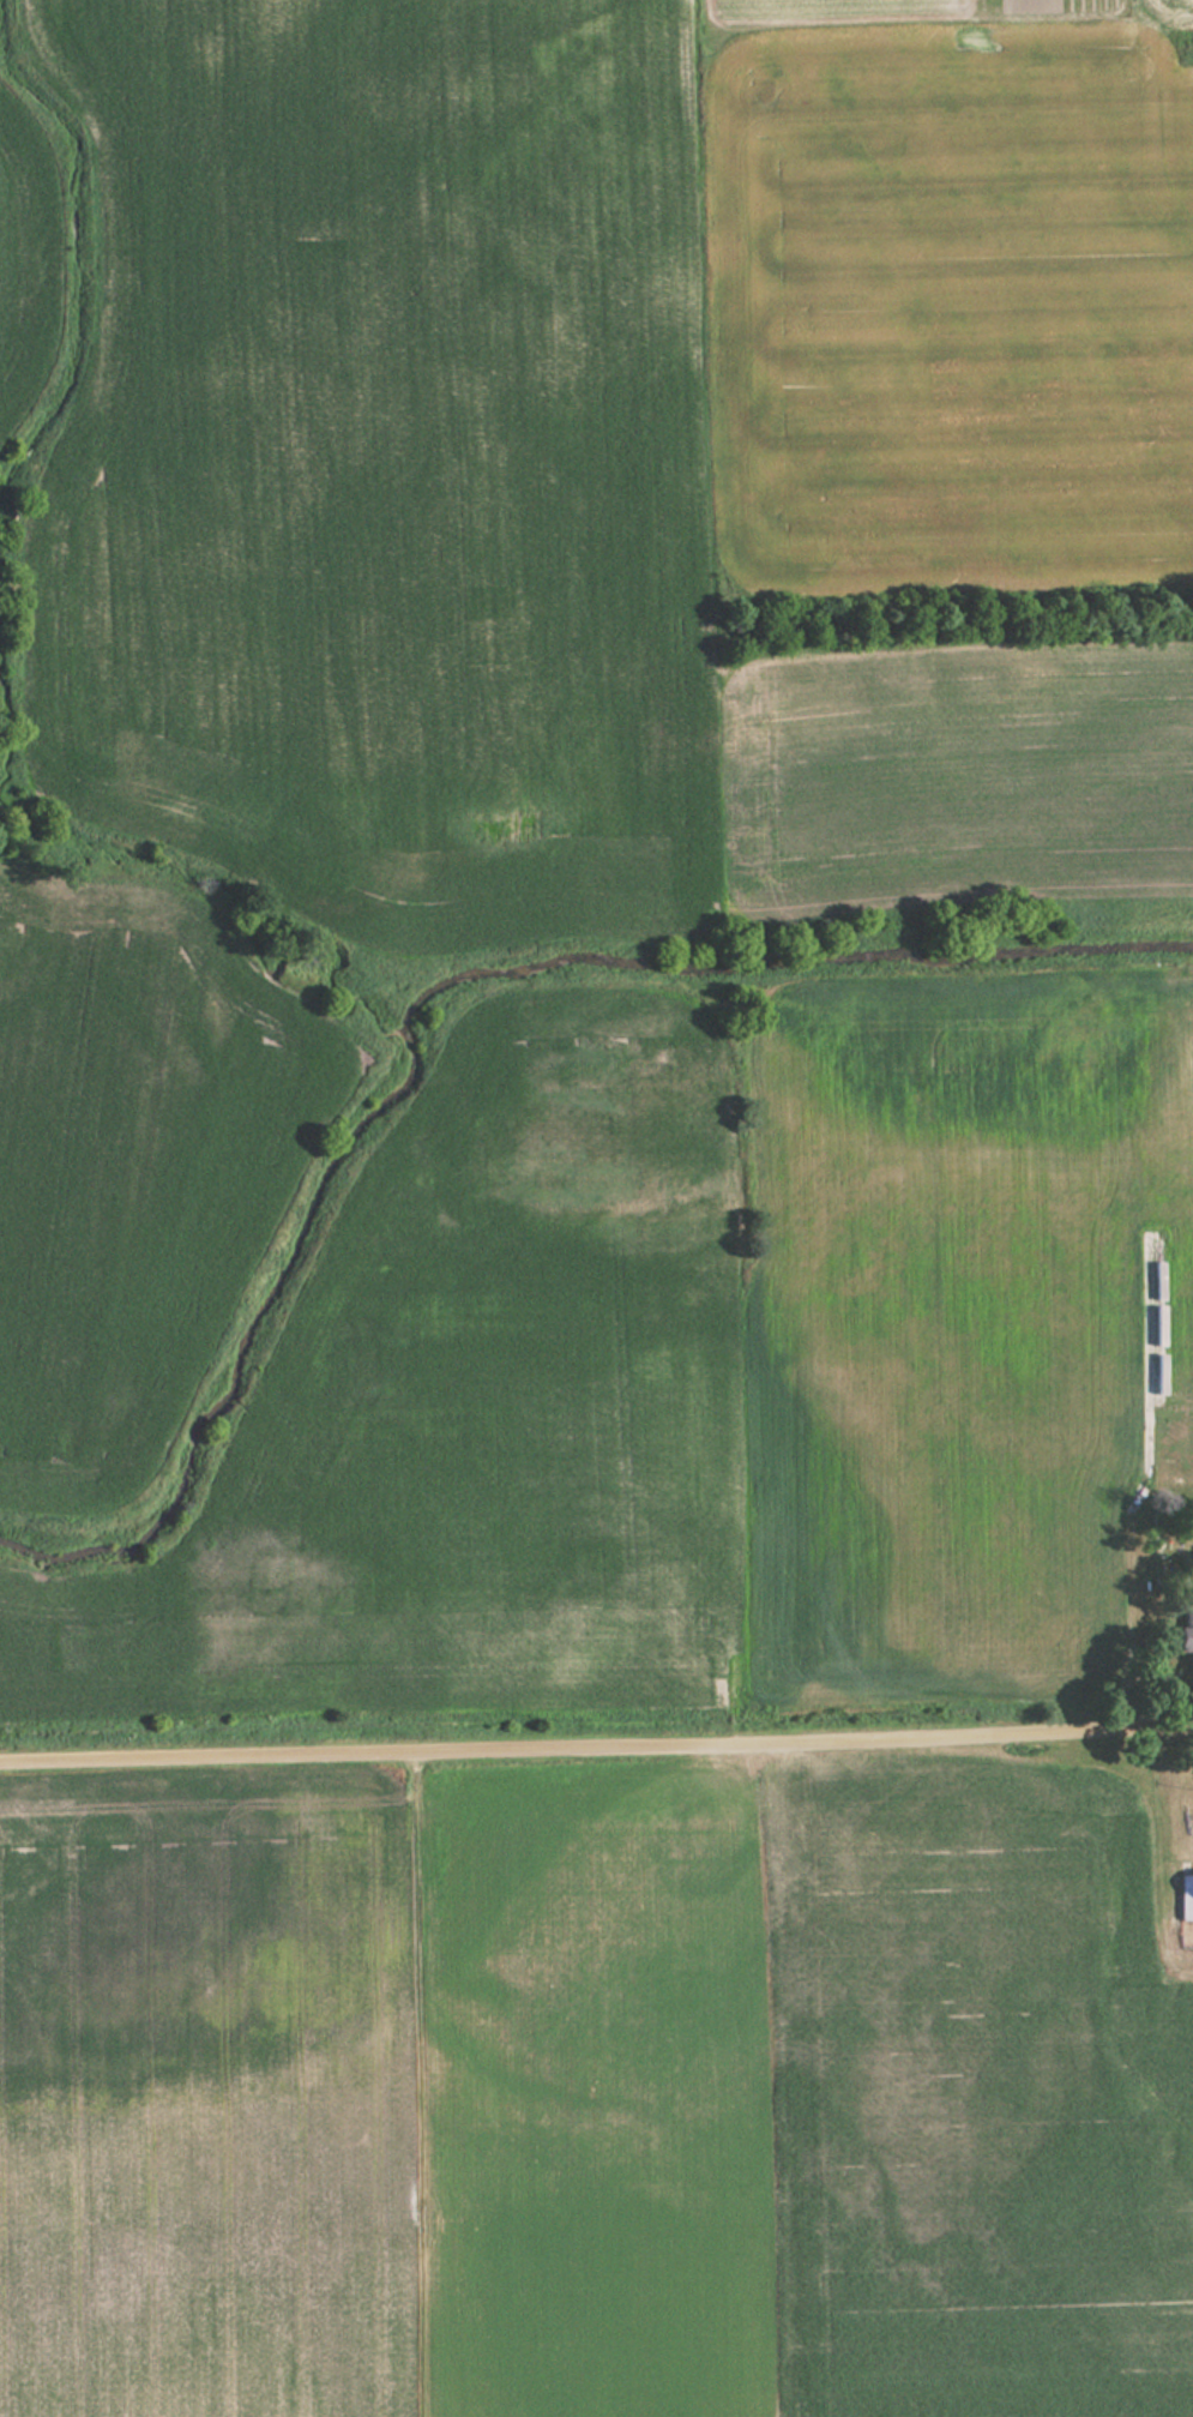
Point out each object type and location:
building: (1187, 1623)
road: (596, 1736)
building: (1186, 1894)

